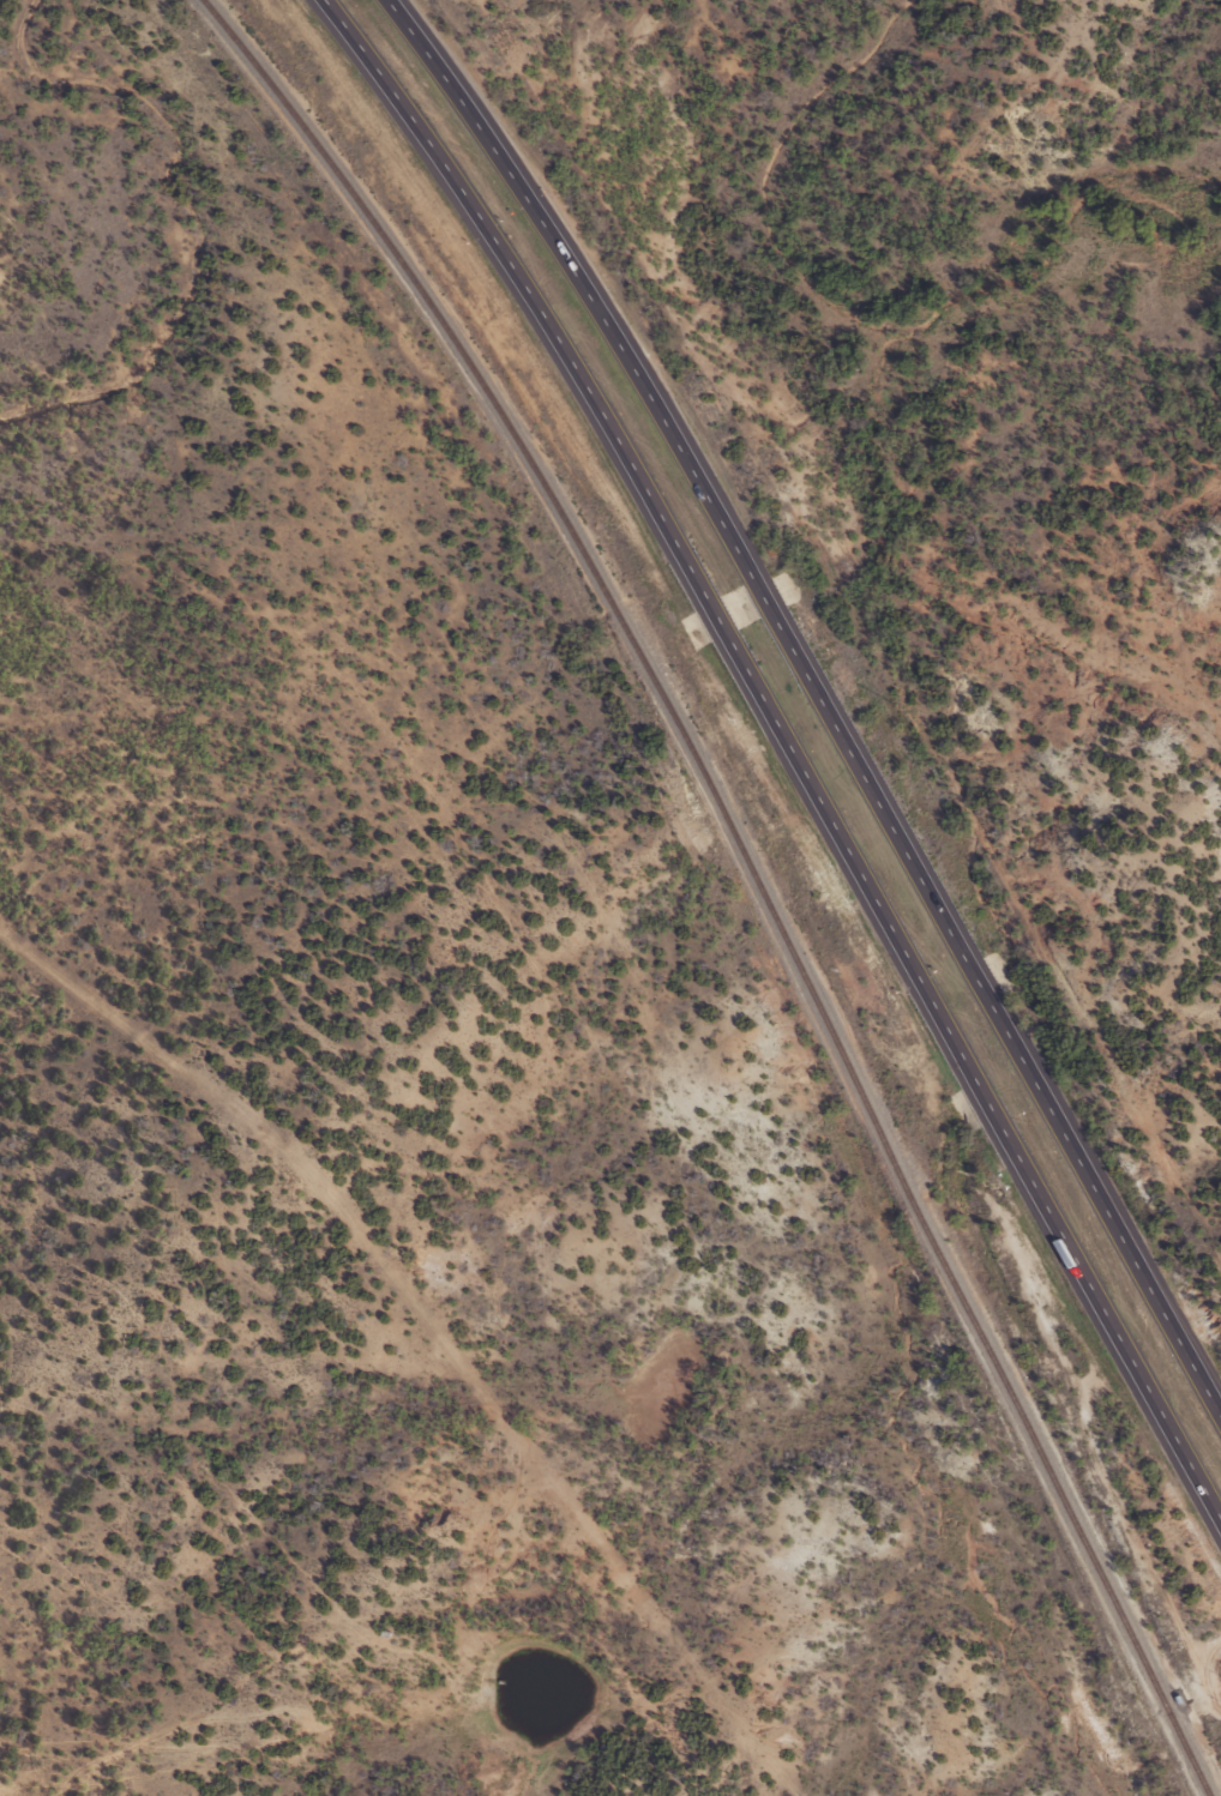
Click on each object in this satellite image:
road: (822, 697)
road: (793, 740)
railway: (757, 870)
road: (247, 1718)

